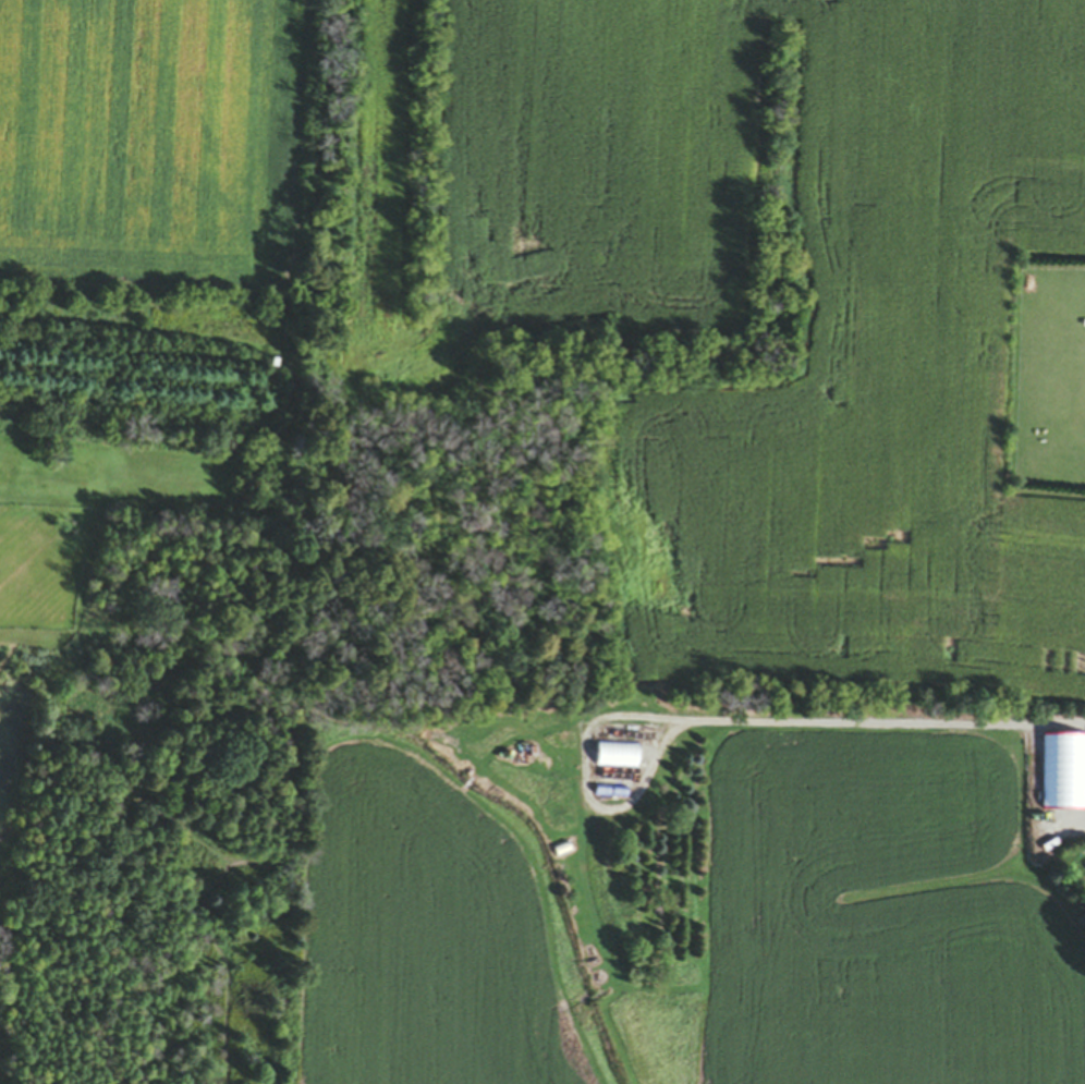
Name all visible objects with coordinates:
road: (881, 719)
building: (1063, 776)
building: (617, 781)

